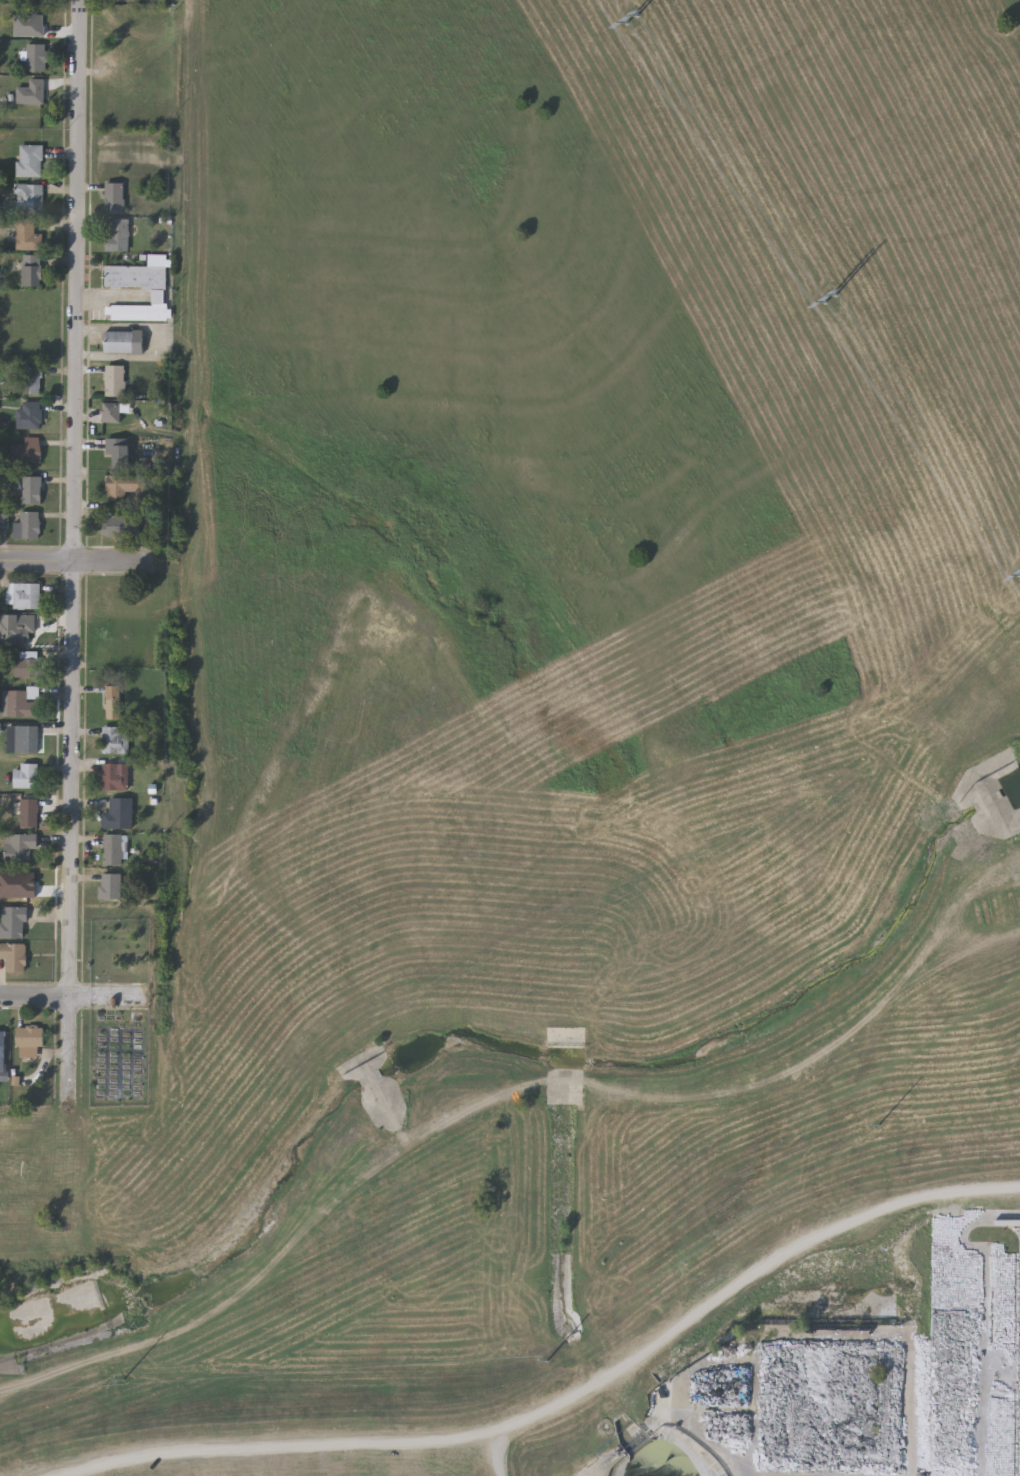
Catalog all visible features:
power tower: (633, 20)
building: (36, 56)
building: (33, 98)
building: (30, 159)
building: (29, 196)
building: (115, 196)
building: (27, 234)
building: (119, 234)
building: (32, 270)
building: (161, 298)
power tower: (832, 299)
building: (124, 340)
building: (32, 379)
building: (115, 379)
building: (112, 411)
building: (30, 414)
building: (28, 450)
building: (120, 450)
building: (125, 485)
building: (33, 489)
building: (28, 525)
building: (122, 525)
road: (67, 545)
road: (78, 562)
building: (23, 595)
building: (29, 629)
building: (27, 664)
building: (17, 700)
building: (113, 700)
building: (30, 738)
building: (115, 739)
building: (25, 775)
building: (114, 776)
building: (29, 812)
building: (118, 813)
building: (19, 846)
building: (112, 849)
building: (110, 885)
building: (13, 921)
building: (14, 955)
road: (64, 995)
building: (29, 1041)
building: (2, 1046)
power tower: (880, 1125)
park: (35, 1195)
power tower: (548, 1362)
power tower: (124, 1380)

